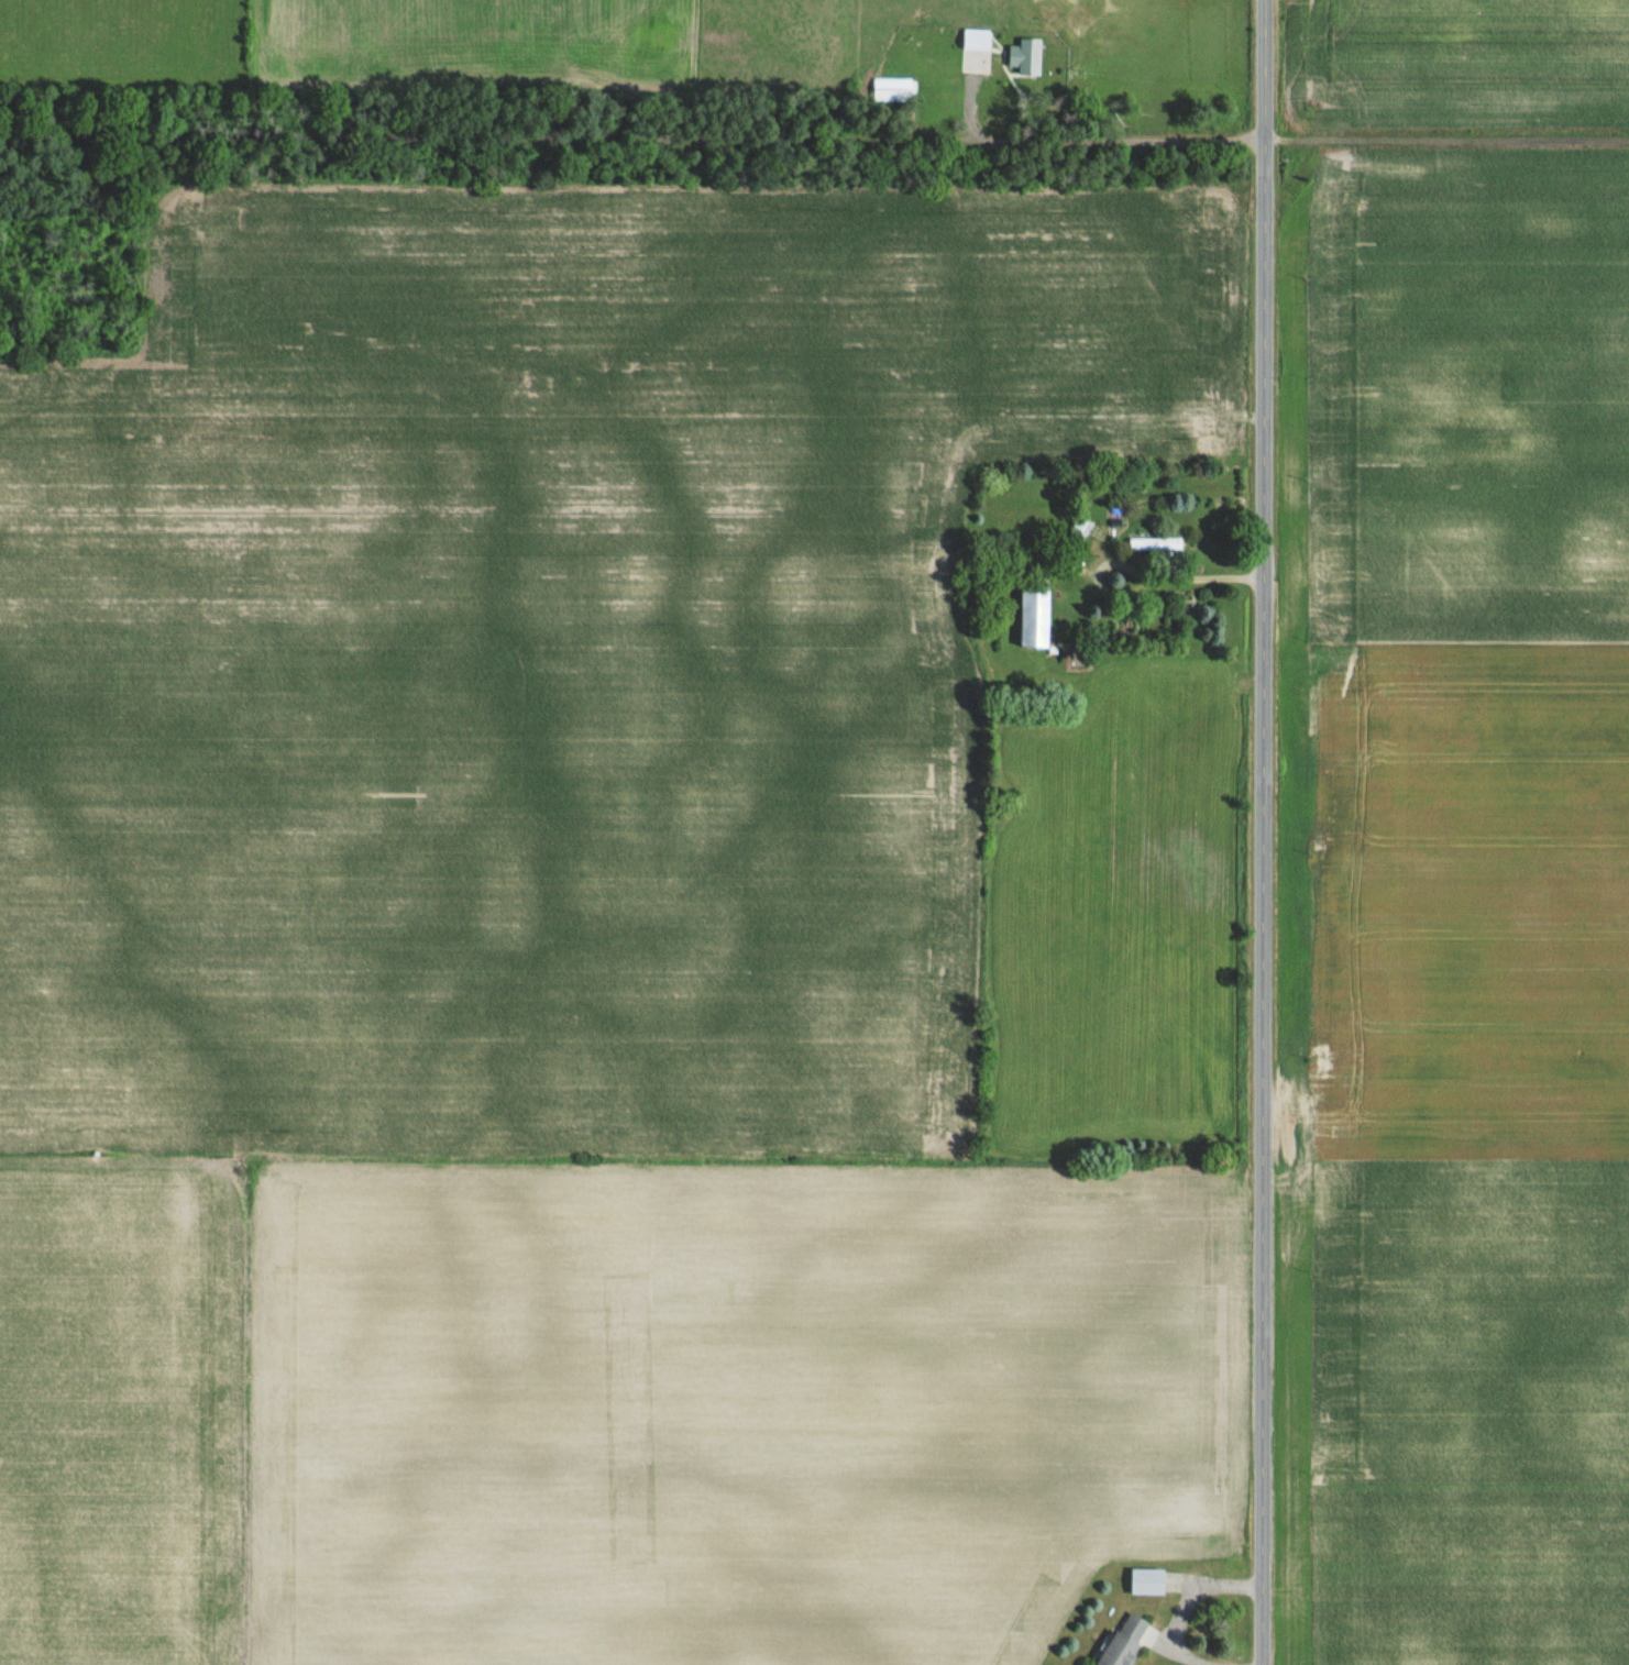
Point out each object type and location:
building: (976, 51)
building: (1027, 56)
building: (893, 91)
building: (1080, 530)
building: (1157, 543)
road: (1142, 582)
building: (1037, 616)
road: (1262, 831)
building: (1147, 1580)
road: (1182, 1601)
building: (1127, 1641)

